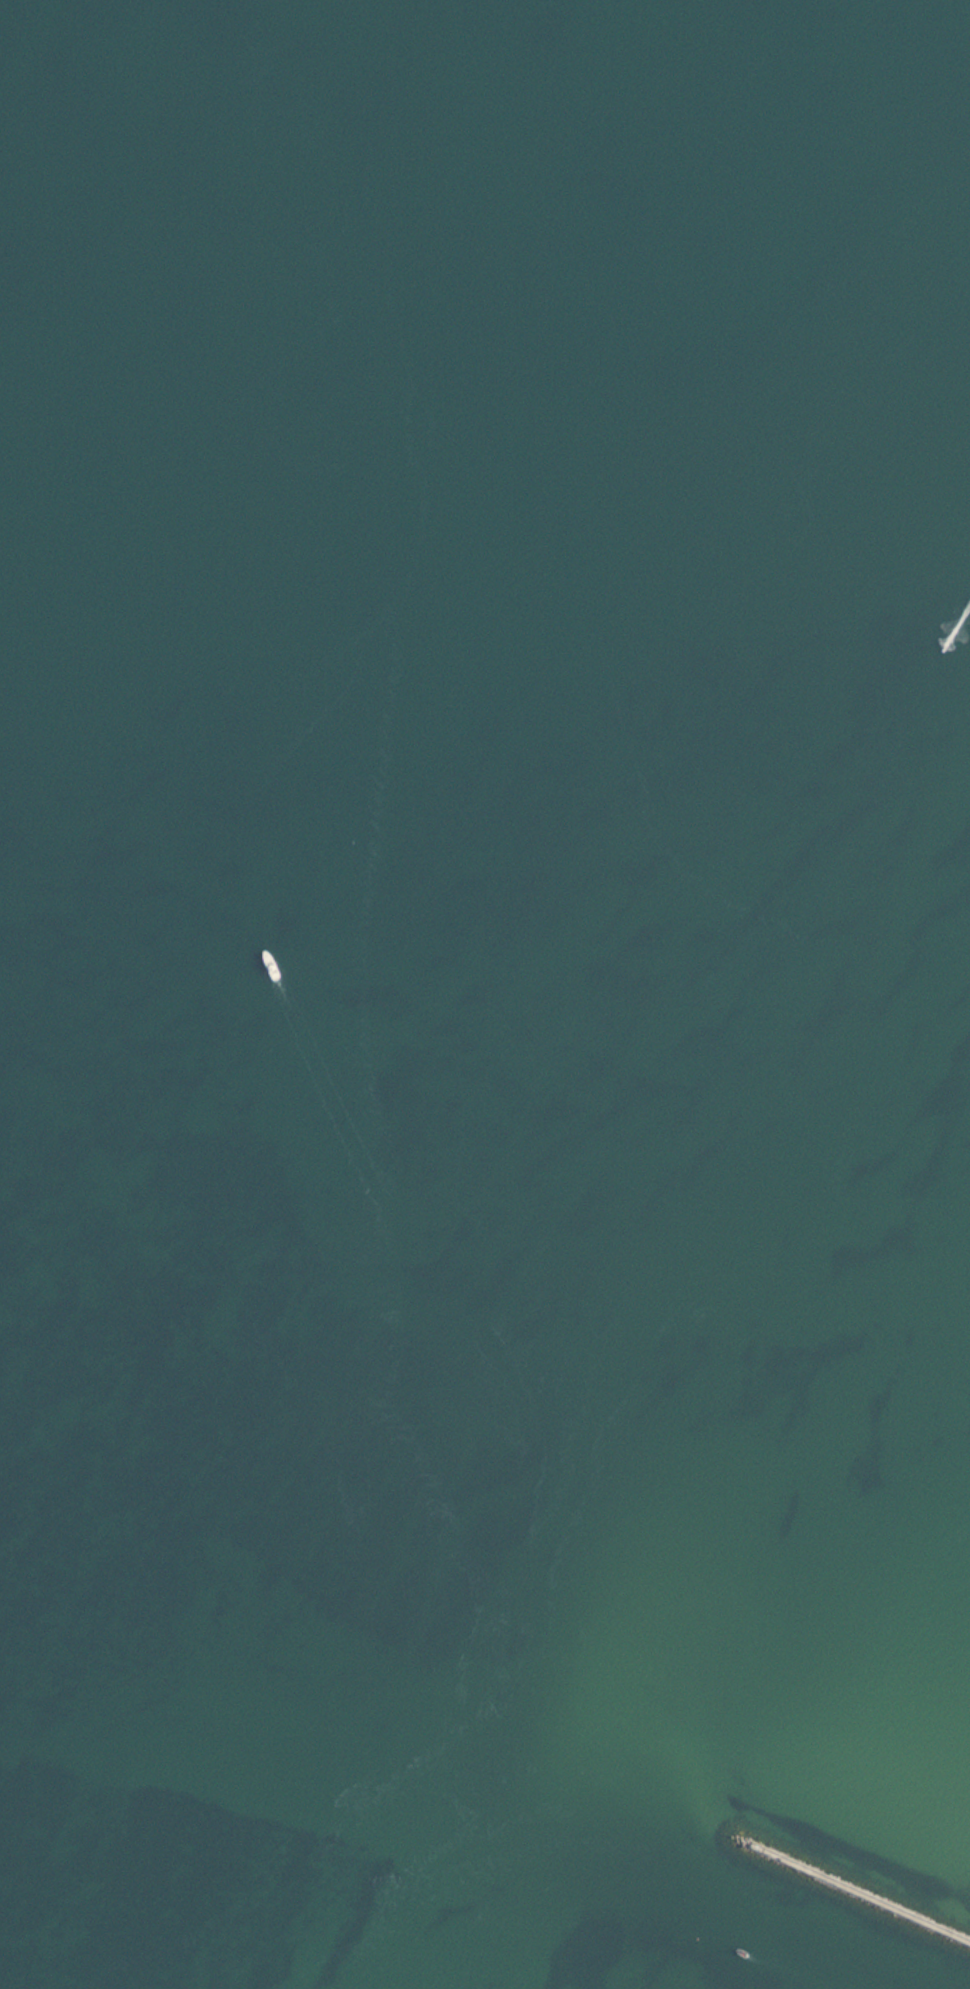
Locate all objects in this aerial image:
pier: (854, 1880)
park: (855, 1880)
road: (860, 1890)

